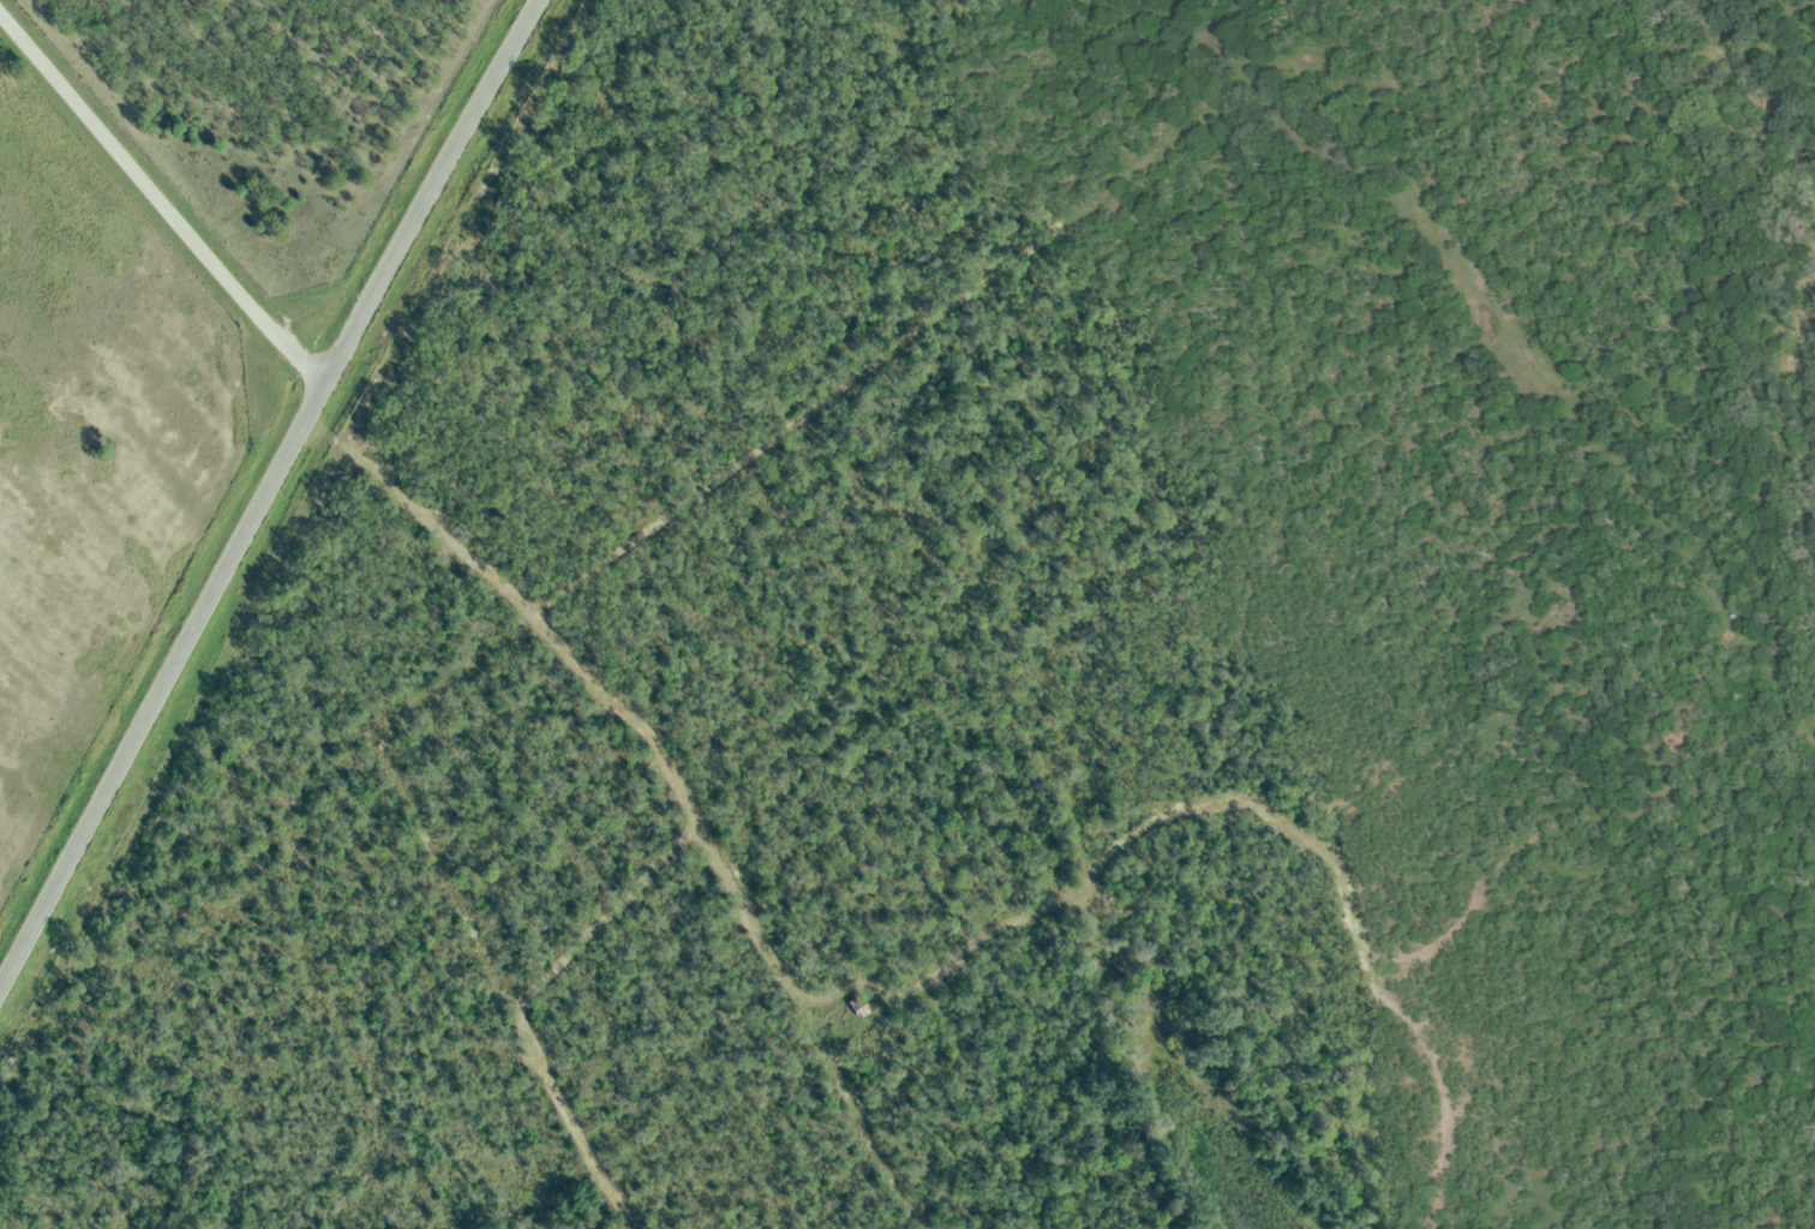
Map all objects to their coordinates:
road: (157, 205)
road: (265, 488)

